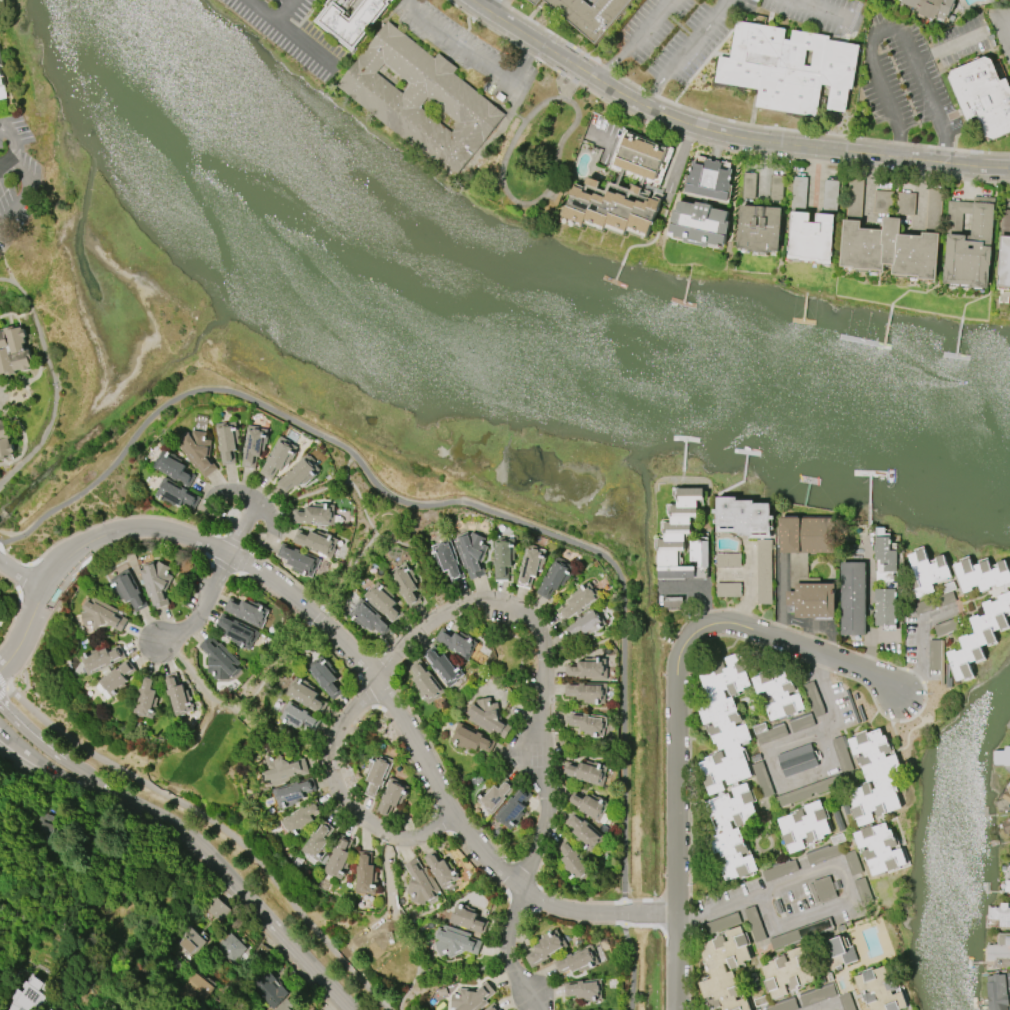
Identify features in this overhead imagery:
building: (885, 0)
building: (1007, 0)
building: (534, 1)
road: (494, 6)
building: (930, 7)
road: (828, 10)
road: (262, 11)
road: (285, 11)
building: (589, 15)
road: (1006, 17)
building: (352, 21)
road: (888, 29)
road: (636, 42)
road: (949, 44)
road: (304, 45)
road: (688, 52)
road: (475, 56)
building: (789, 68)
building: (2, 84)
building: (983, 96)
building: (421, 100)
road: (723, 135)
road: (12, 142)
park: (534, 153)
building: (640, 155)
road: (682, 165)
road: (0, 172)
road: (764, 173)
road: (816, 180)
building: (708, 181)
road: (26, 185)
building: (748, 186)
building: (776, 187)
building: (800, 193)
road: (870, 194)
road: (511, 195)
building: (831, 197)
road: (921, 200)
building: (883, 202)
building: (905, 203)
building: (613, 206)
building: (699, 224)
building: (759, 228)
building: (812, 237)
building: (890, 240)
building: (969, 243)
building: (1004, 251)
building: (13, 351)
river: (486, 354)
road: (54, 382)
building: (5, 442)
building: (227, 442)
building: (253, 445)
building: (198, 450)
building: (279, 458)
building: (172, 466)
building: (298, 474)
building: (176, 495)
road: (435, 503)
building: (315, 515)
building: (743, 517)
building: (677, 535)
building: (806, 535)
building: (316, 542)
road: (3, 546)
building: (472, 553)
building: (699, 553)
building: (884, 556)
building: (504, 557)
road: (231, 560)
building: (298, 560)
building: (448, 560)
building: (729, 560)
building: (531, 566)
building: (764, 572)
building: (927, 572)
road: (21, 575)
building: (982, 575)
building: (556, 578)
building: (156, 583)
building: (405, 585)
road: (750, 589)
building: (129, 590)
building: (728, 590)
road: (703, 591)
building: (853, 599)
building: (580, 600)
building: (813, 600)
building: (937, 600)
building: (384, 601)
building: (884, 607)
road: (21, 608)
road: (869, 611)
building: (247, 612)
building: (100, 615)
building: (369, 618)
building: (587, 624)
building: (238, 632)
building: (980, 636)
road: (920, 638)
building: (456, 643)
road: (352, 651)
building: (101, 660)
building: (219, 660)
road: (549, 665)
building: (443, 667)
building: (586, 670)
building: (325, 676)
building: (117, 678)
building: (425, 682)
road: (3, 683)
road: (830, 689)
building: (587, 692)
road: (3, 693)
building: (306, 694)
building: (778, 694)
building: (177, 695)
building: (146, 698)
road: (677, 710)
building: (298, 717)
building: (487, 717)
building: (588, 723)
building: (724, 724)
building: (1008, 725)
building: (783, 729)
building: (471, 739)
building: (1002, 757)
road: (62, 760)
building: (798, 760)
building: (282, 770)
building: (378, 772)
building: (589, 772)
road: (60, 776)
building: (873, 777)
building: (292, 793)
road: (339, 796)
building: (496, 796)
building: (392, 797)
building: (1004, 801)
building: (586, 805)
building: (513, 809)
road: (117, 816)
building: (300, 819)
road: (218, 825)
building: (1007, 825)
building: (804, 827)
building: (584, 830)
building: (731, 832)
building: (317, 841)
building: (879, 849)
building: (338, 859)
building: (574, 862)
road: (825, 866)
building: (441, 869)
building: (365, 874)
building: (420, 884)
building: (1007, 885)
road: (250, 898)
building: (216, 910)
road: (624, 911)
building: (1000, 915)
building: (468, 918)
building: (798, 935)
building: (188, 942)
building: (455, 942)
building: (230, 948)
building: (546, 949)
road: (278, 950)
building: (1000, 951)
building: (836, 952)
road: (509, 955)
building: (577, 961)
road: (634, 966)
building: (724, 970)
building: (786, 972)
building: (1008, 981)
building: (195, 988)
building: (267, 989)
building: (585, 990)
building: (880, 990)
building: (996, 992)
building: (28, 996)
building: (817, 996)
building: (472, 998)
road: (826, 1005)
building: (285, 1006)
building: (784, 1006)
building: (492, 1007)
building: (1009, 1007)
building: (136, 1008)
building: (51, 1009)
building: (52, 1009)

